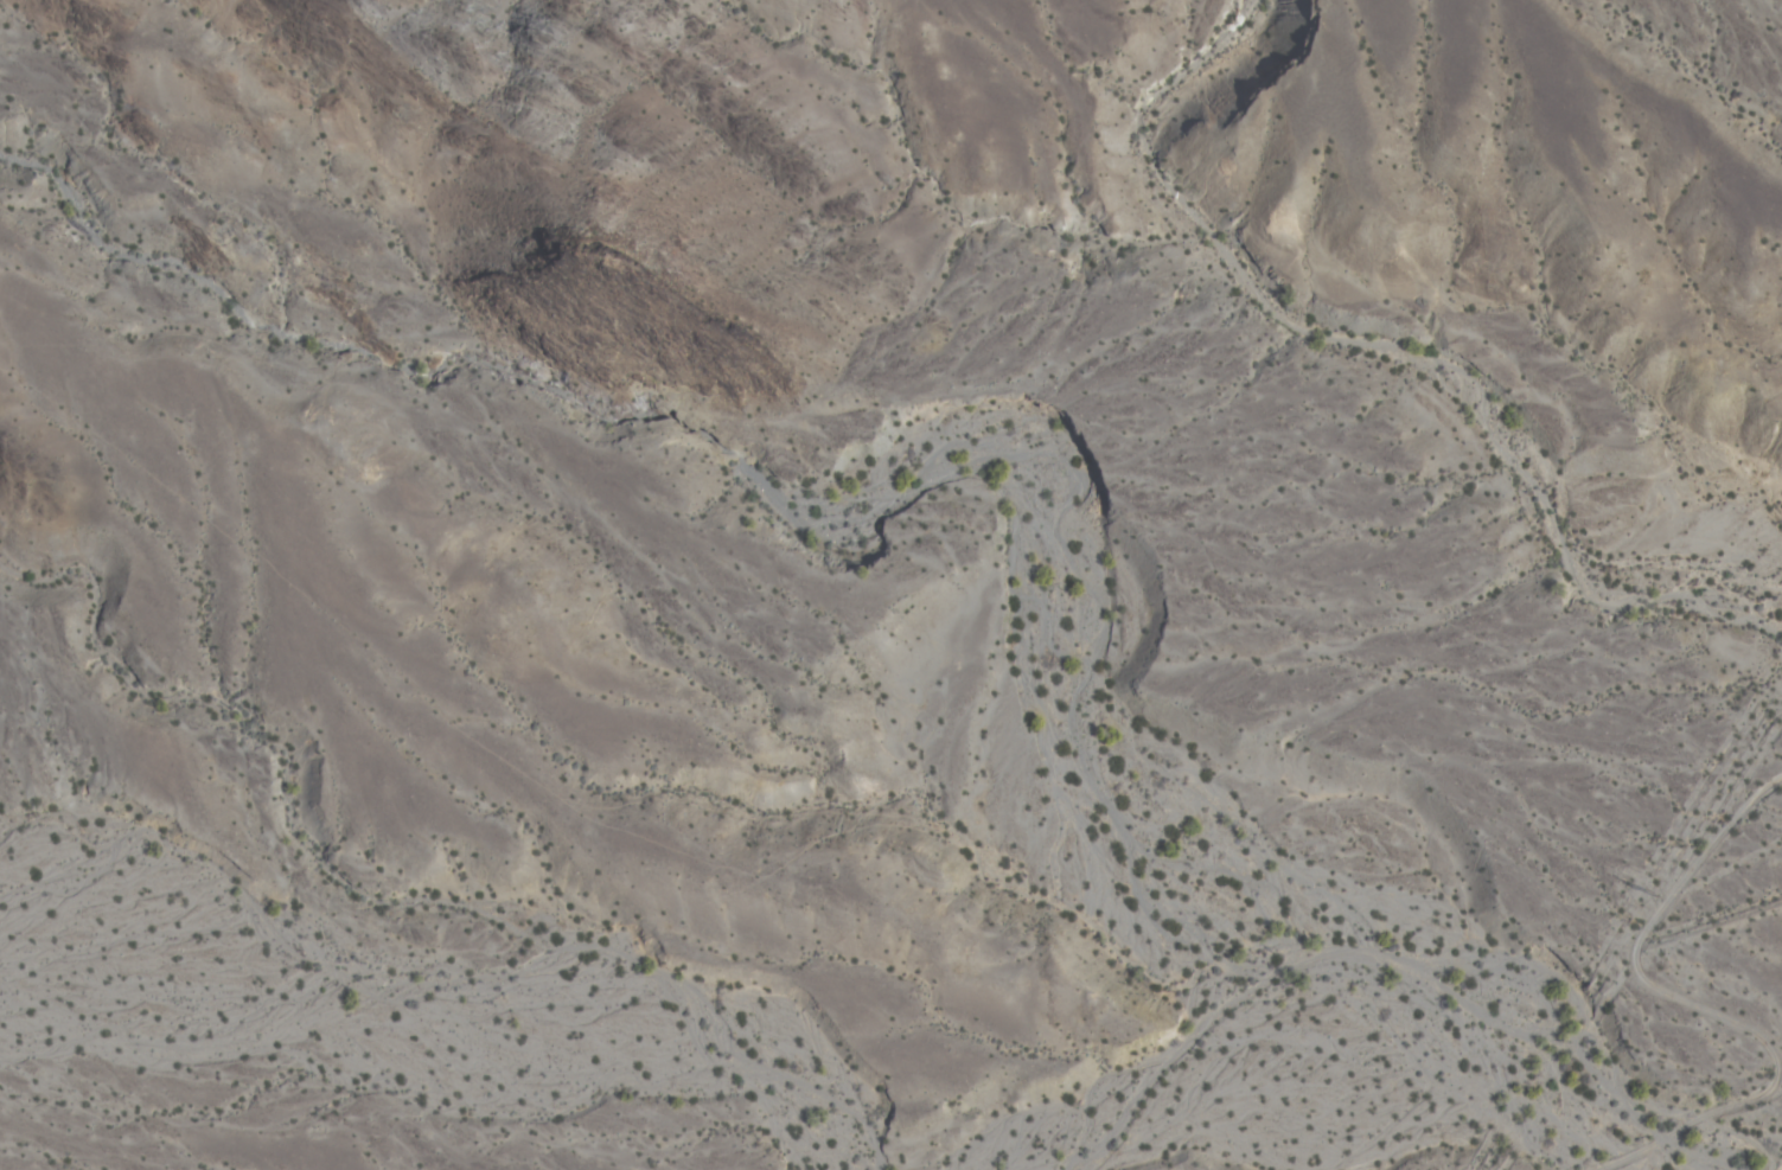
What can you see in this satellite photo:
power tower: (1654, 890)

